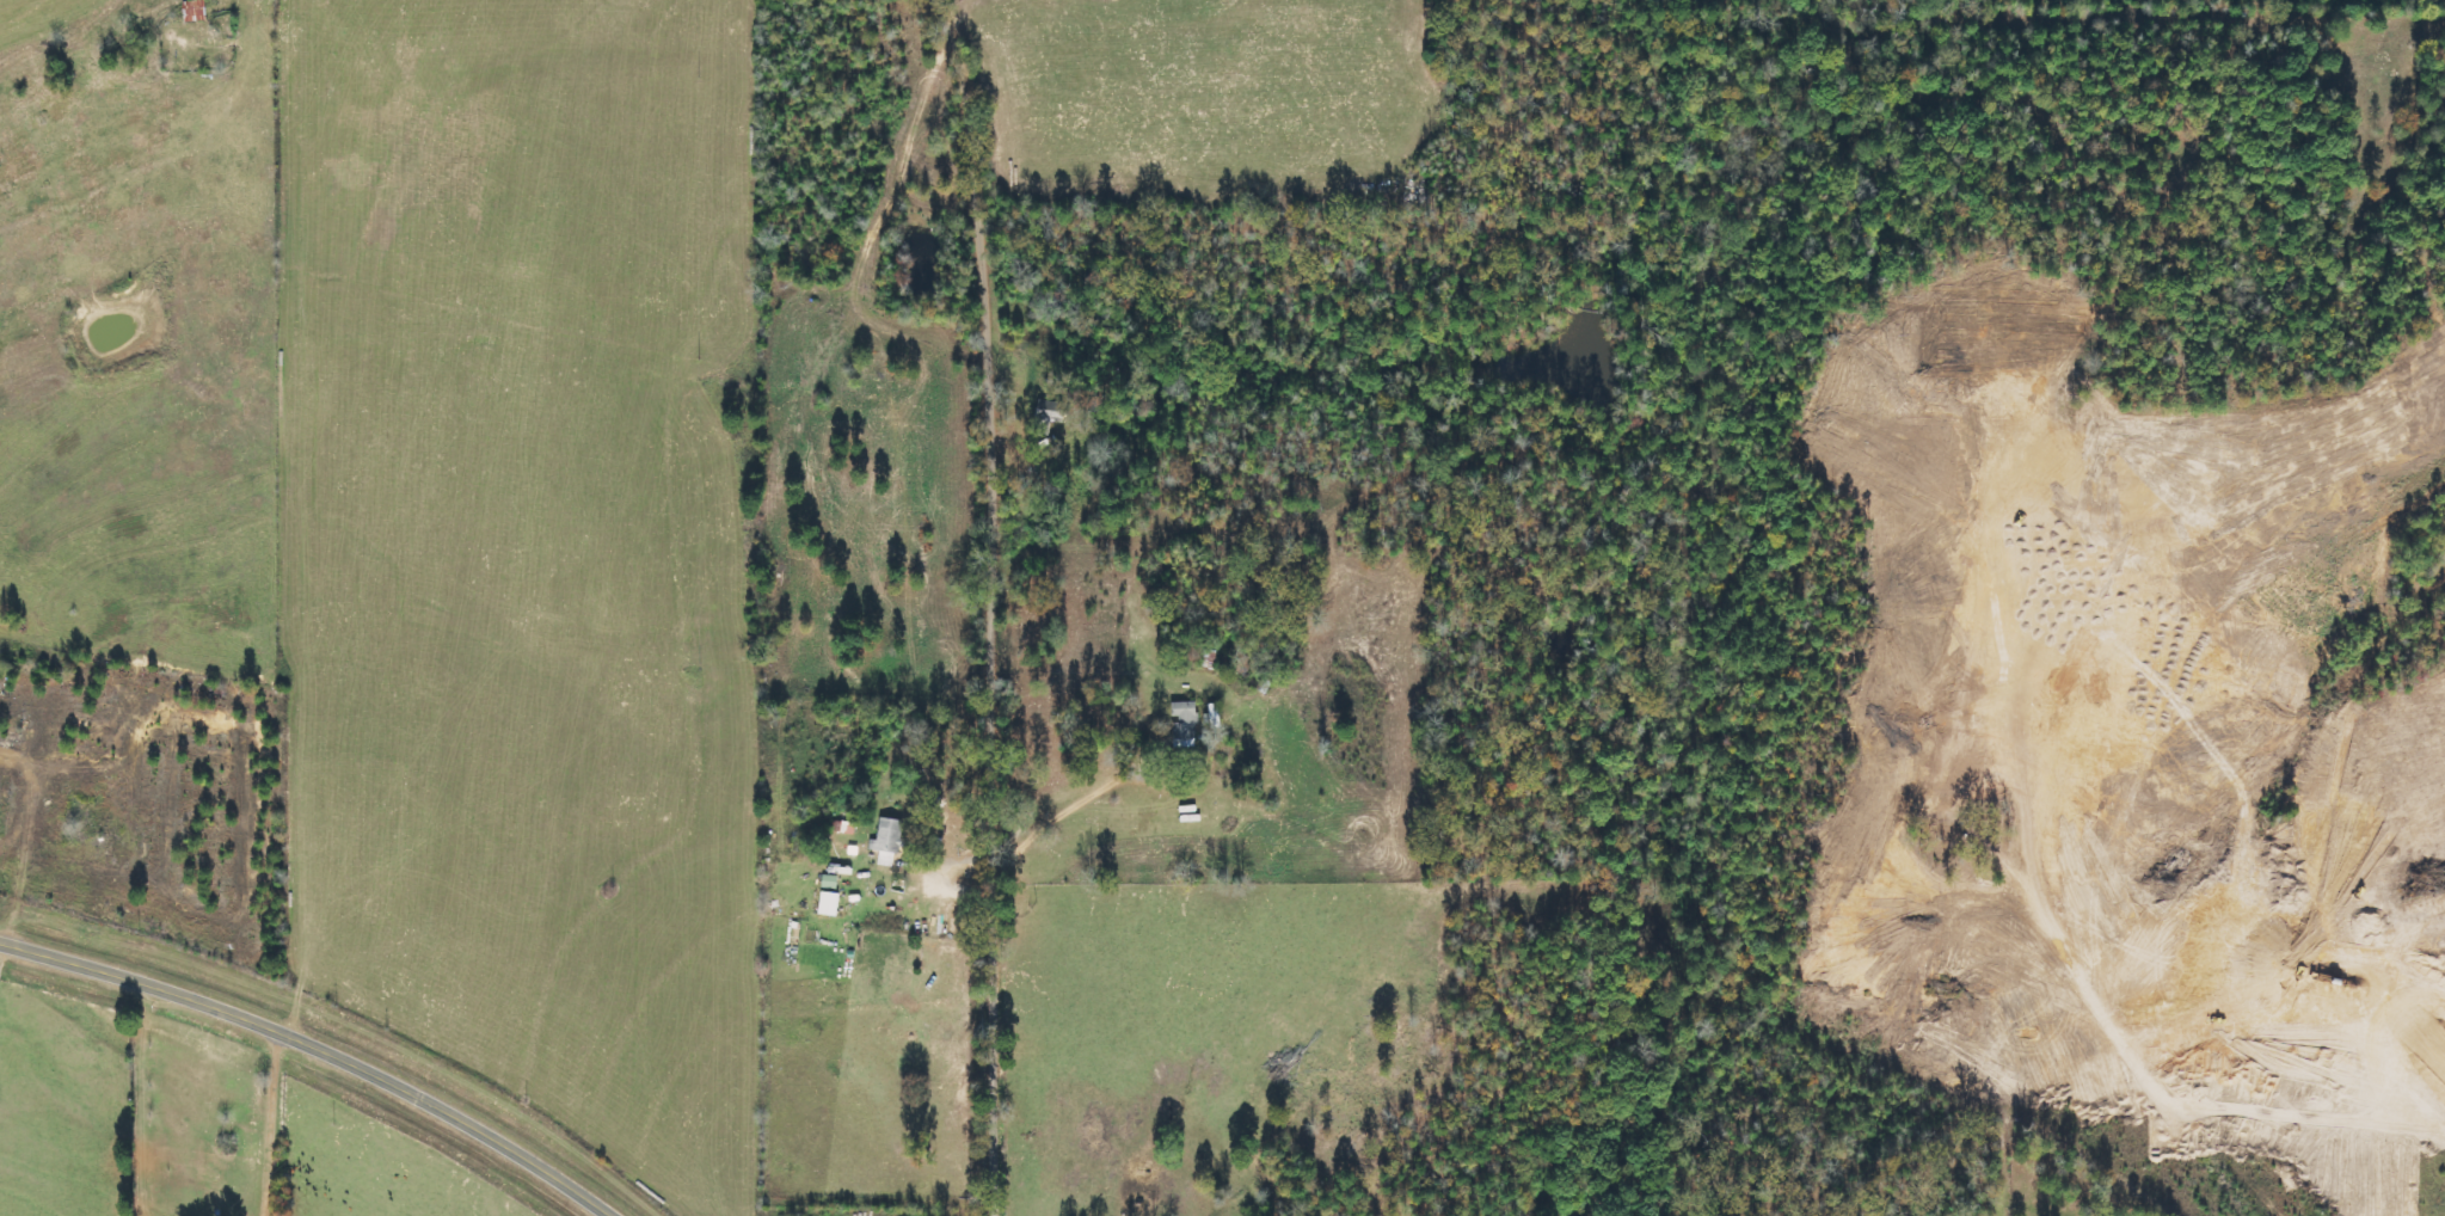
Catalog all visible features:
building: (197, 10)
road: (1002, 603)
building: (1186, 724)
building: (890, 841)
building: (833, 895)
road: (315, 1055)

